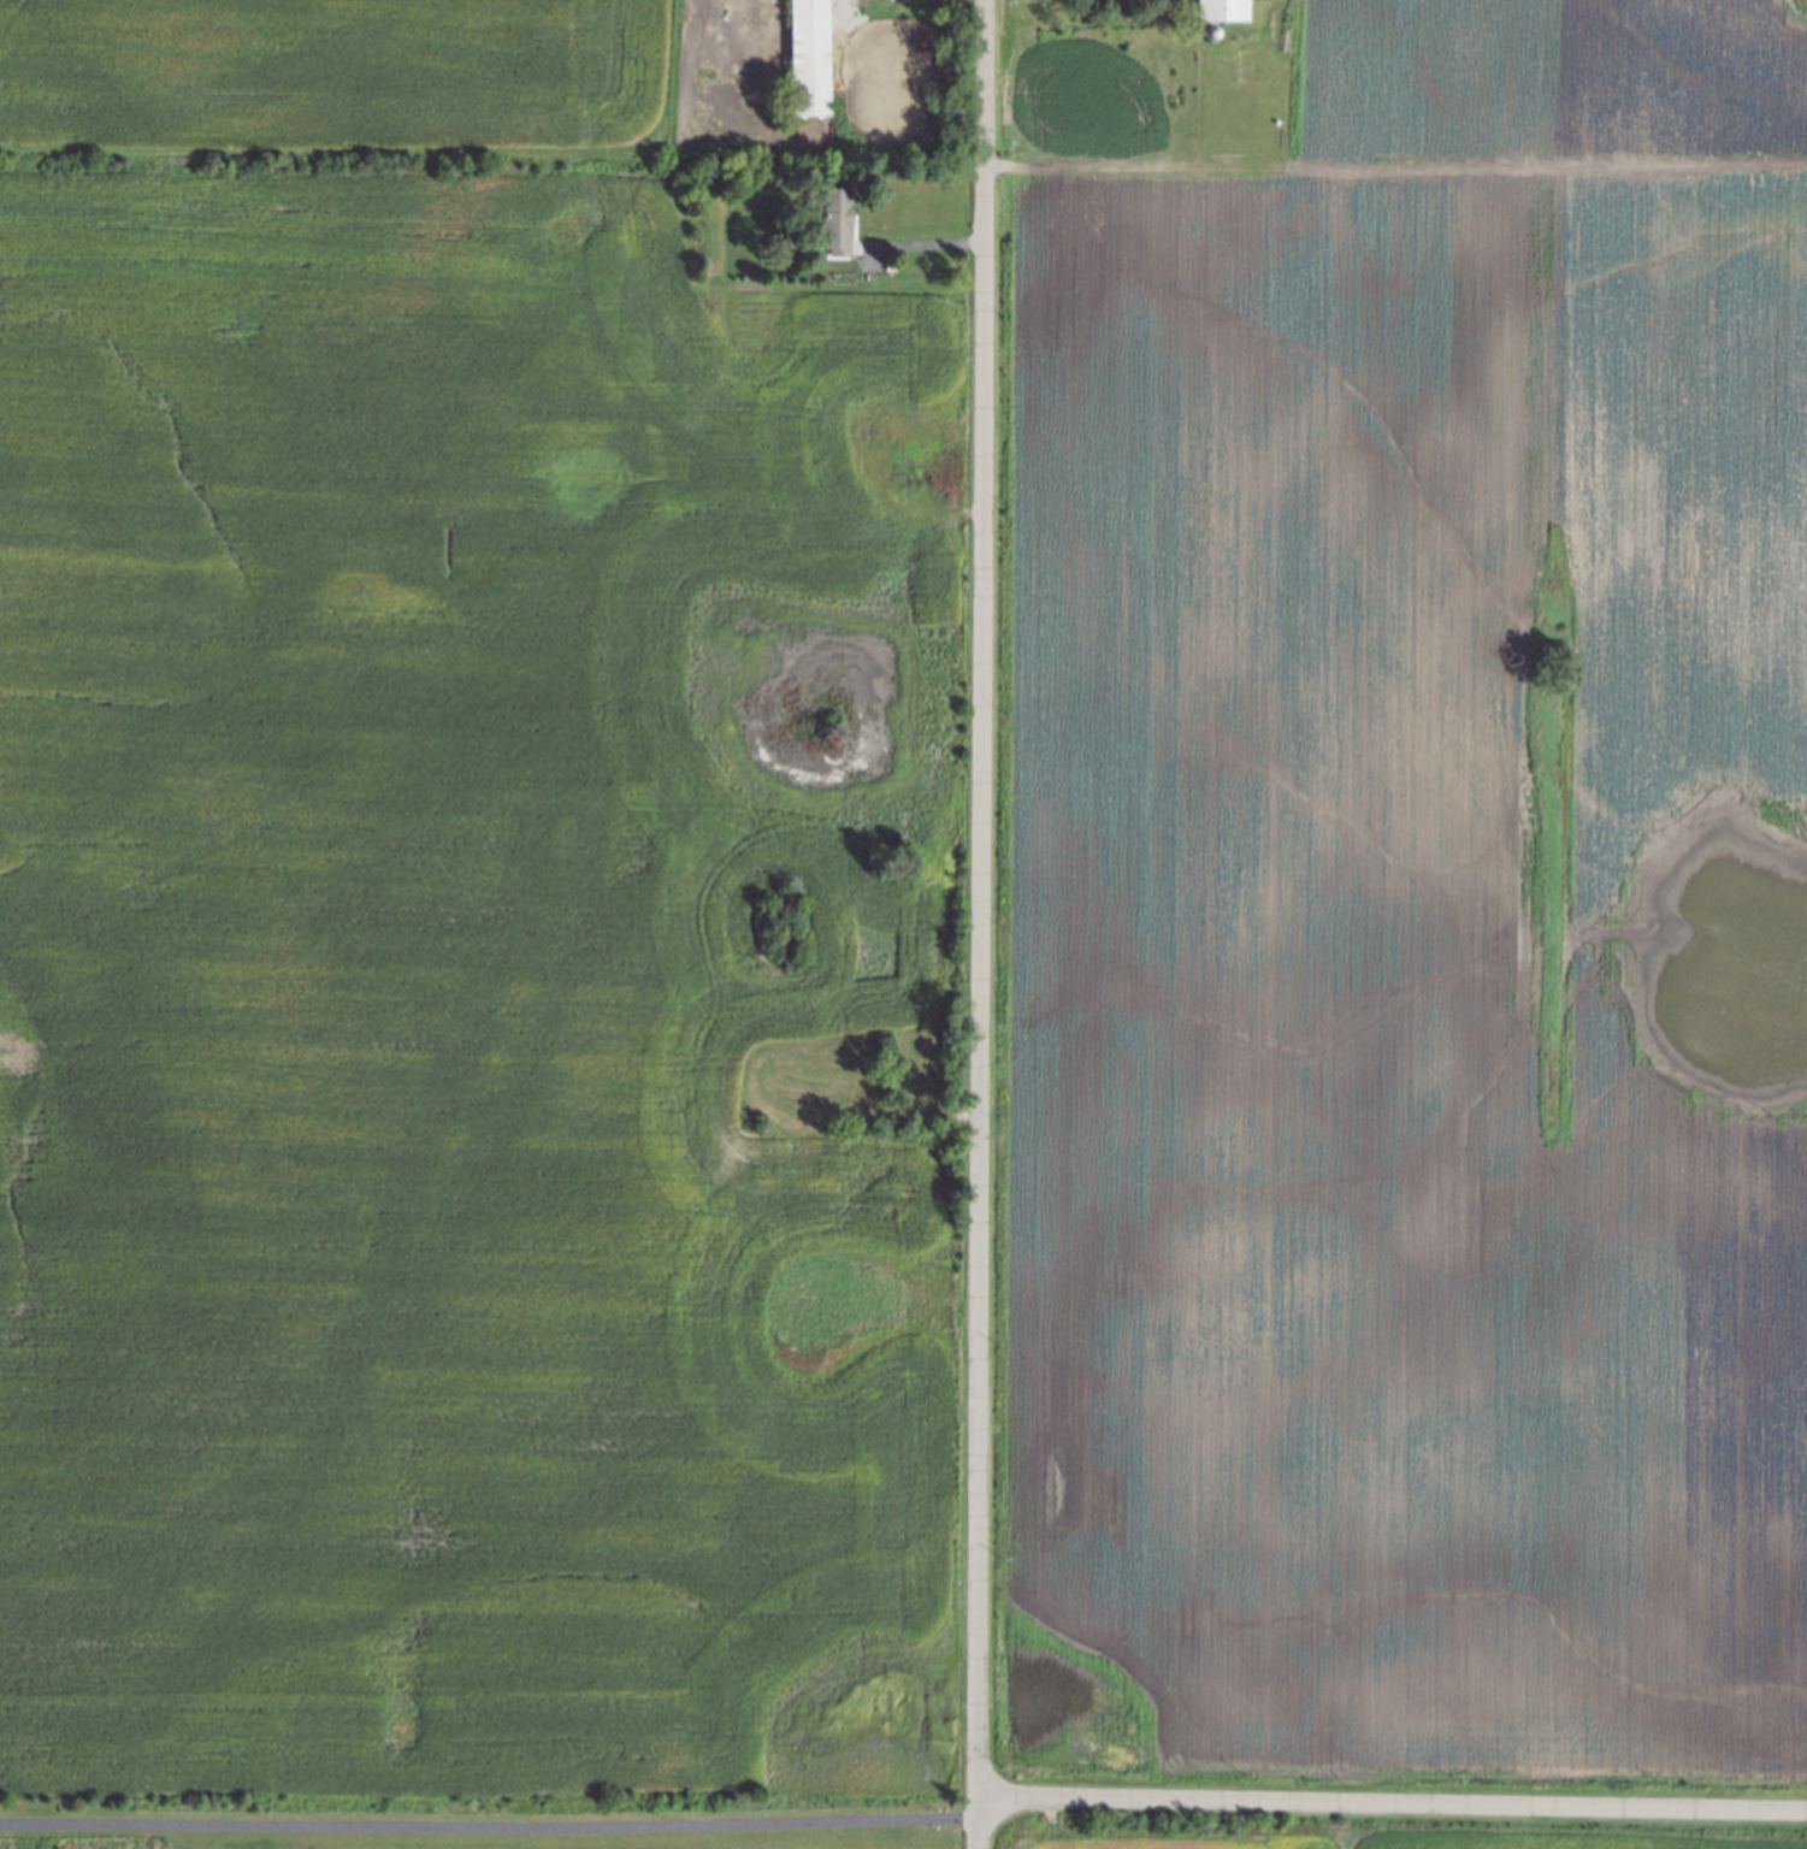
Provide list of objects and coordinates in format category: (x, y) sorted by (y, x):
road: (839, 1)
building: (1220, 11)
building: (1210, 35)
building: (808, 59)
building: (835, 223)
road: (978, 923)
road: (1390, 1806)
road: (488, 1823)

